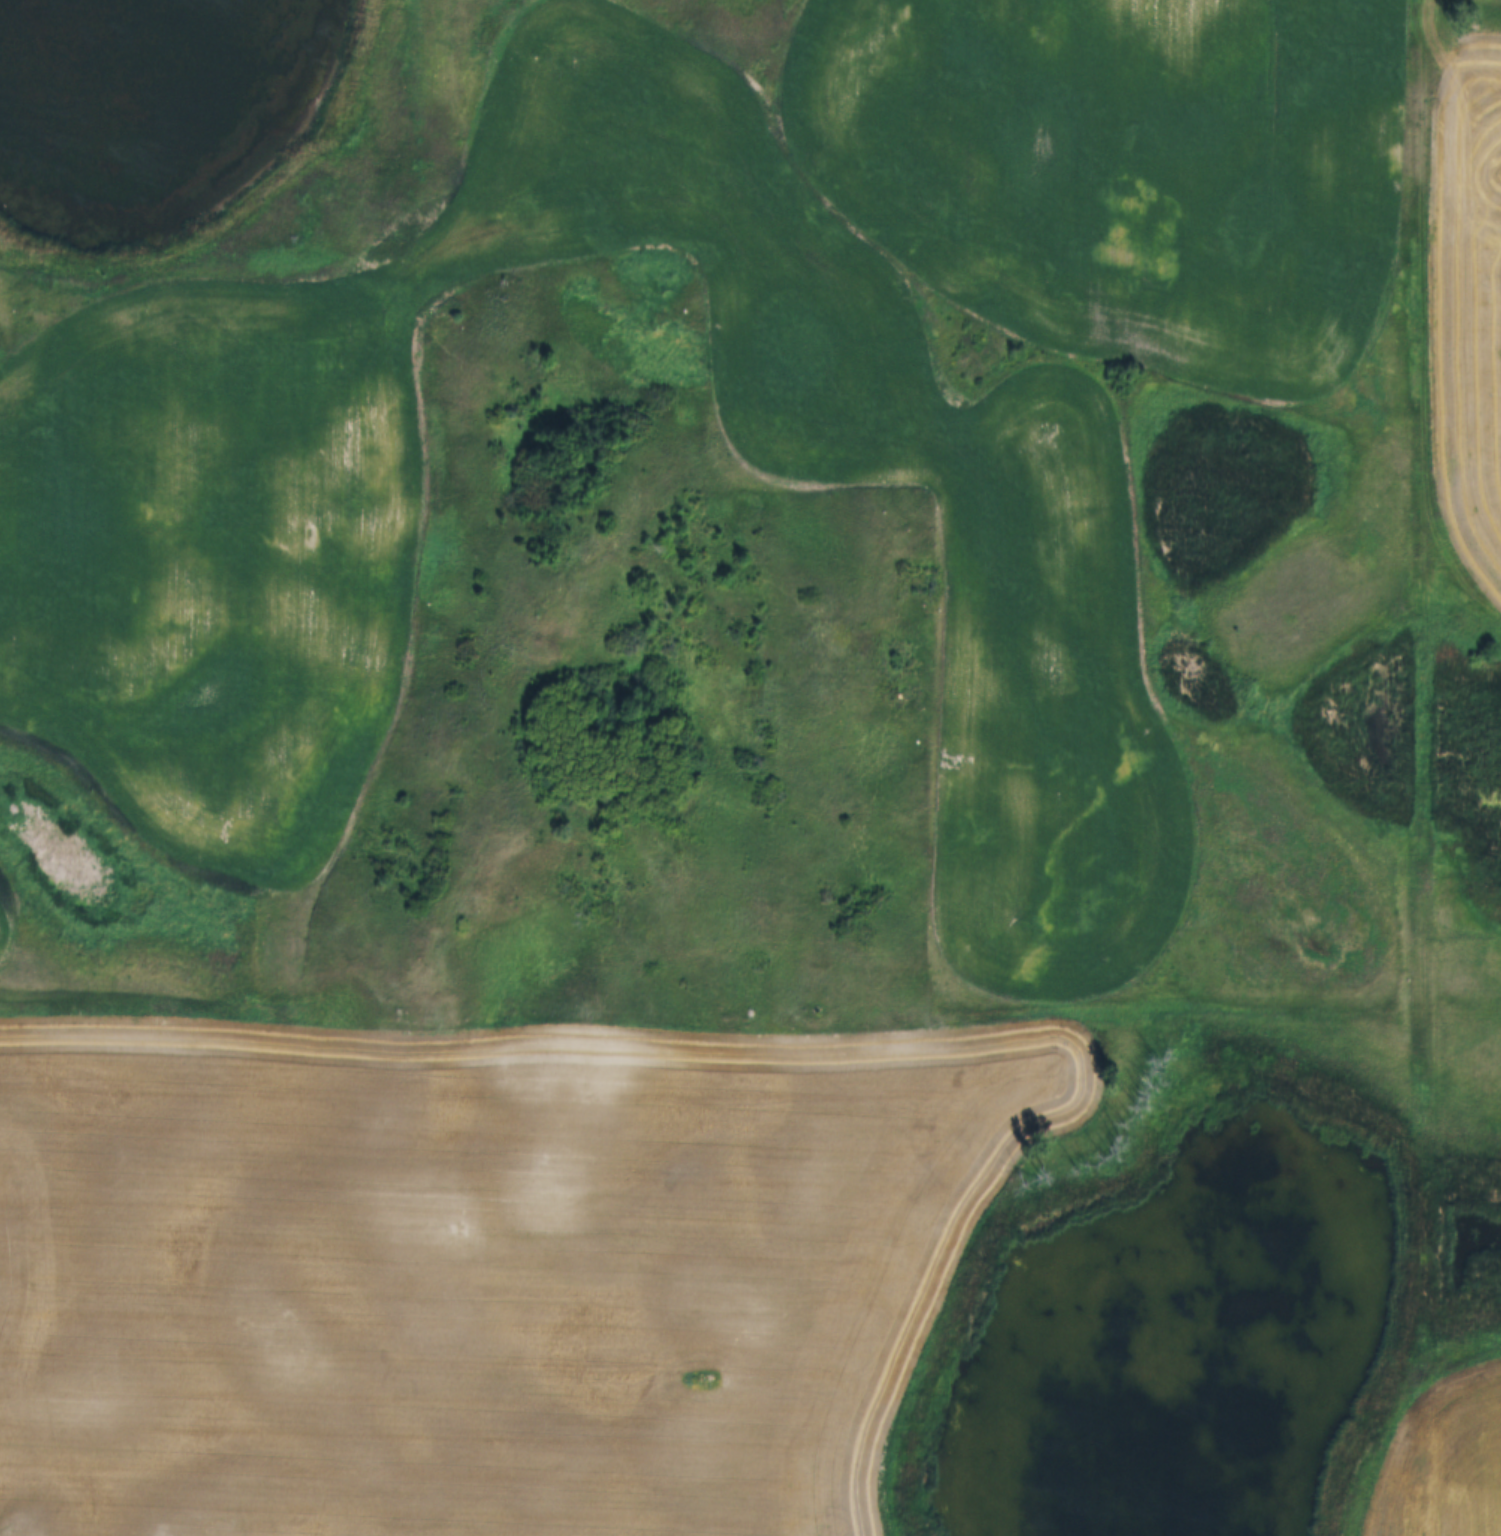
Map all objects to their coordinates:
road: (1430, 93)

